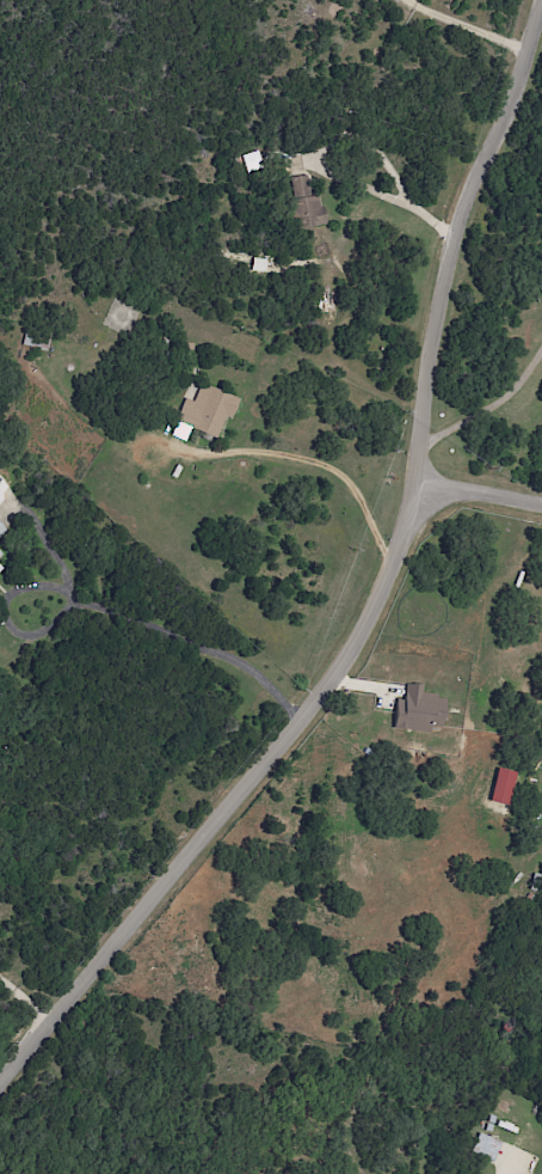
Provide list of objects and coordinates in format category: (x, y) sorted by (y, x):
road: (461, 24)
road: (392, 196)
building: (304, 204)
building: (36, 338)
road: (488, 410)
building: (204, 412)
road: (316, 465)
building: (0, 479)
road: (478, 493)
building: (1, 528)
building: (1, 552)
building: (0, 568)
road: (375, 589)
road: (110, 601)
building: (419, 710)
building: (503, 785)
road: (23, 1002)
building: (485, 1147)
road: (498, 1172)

